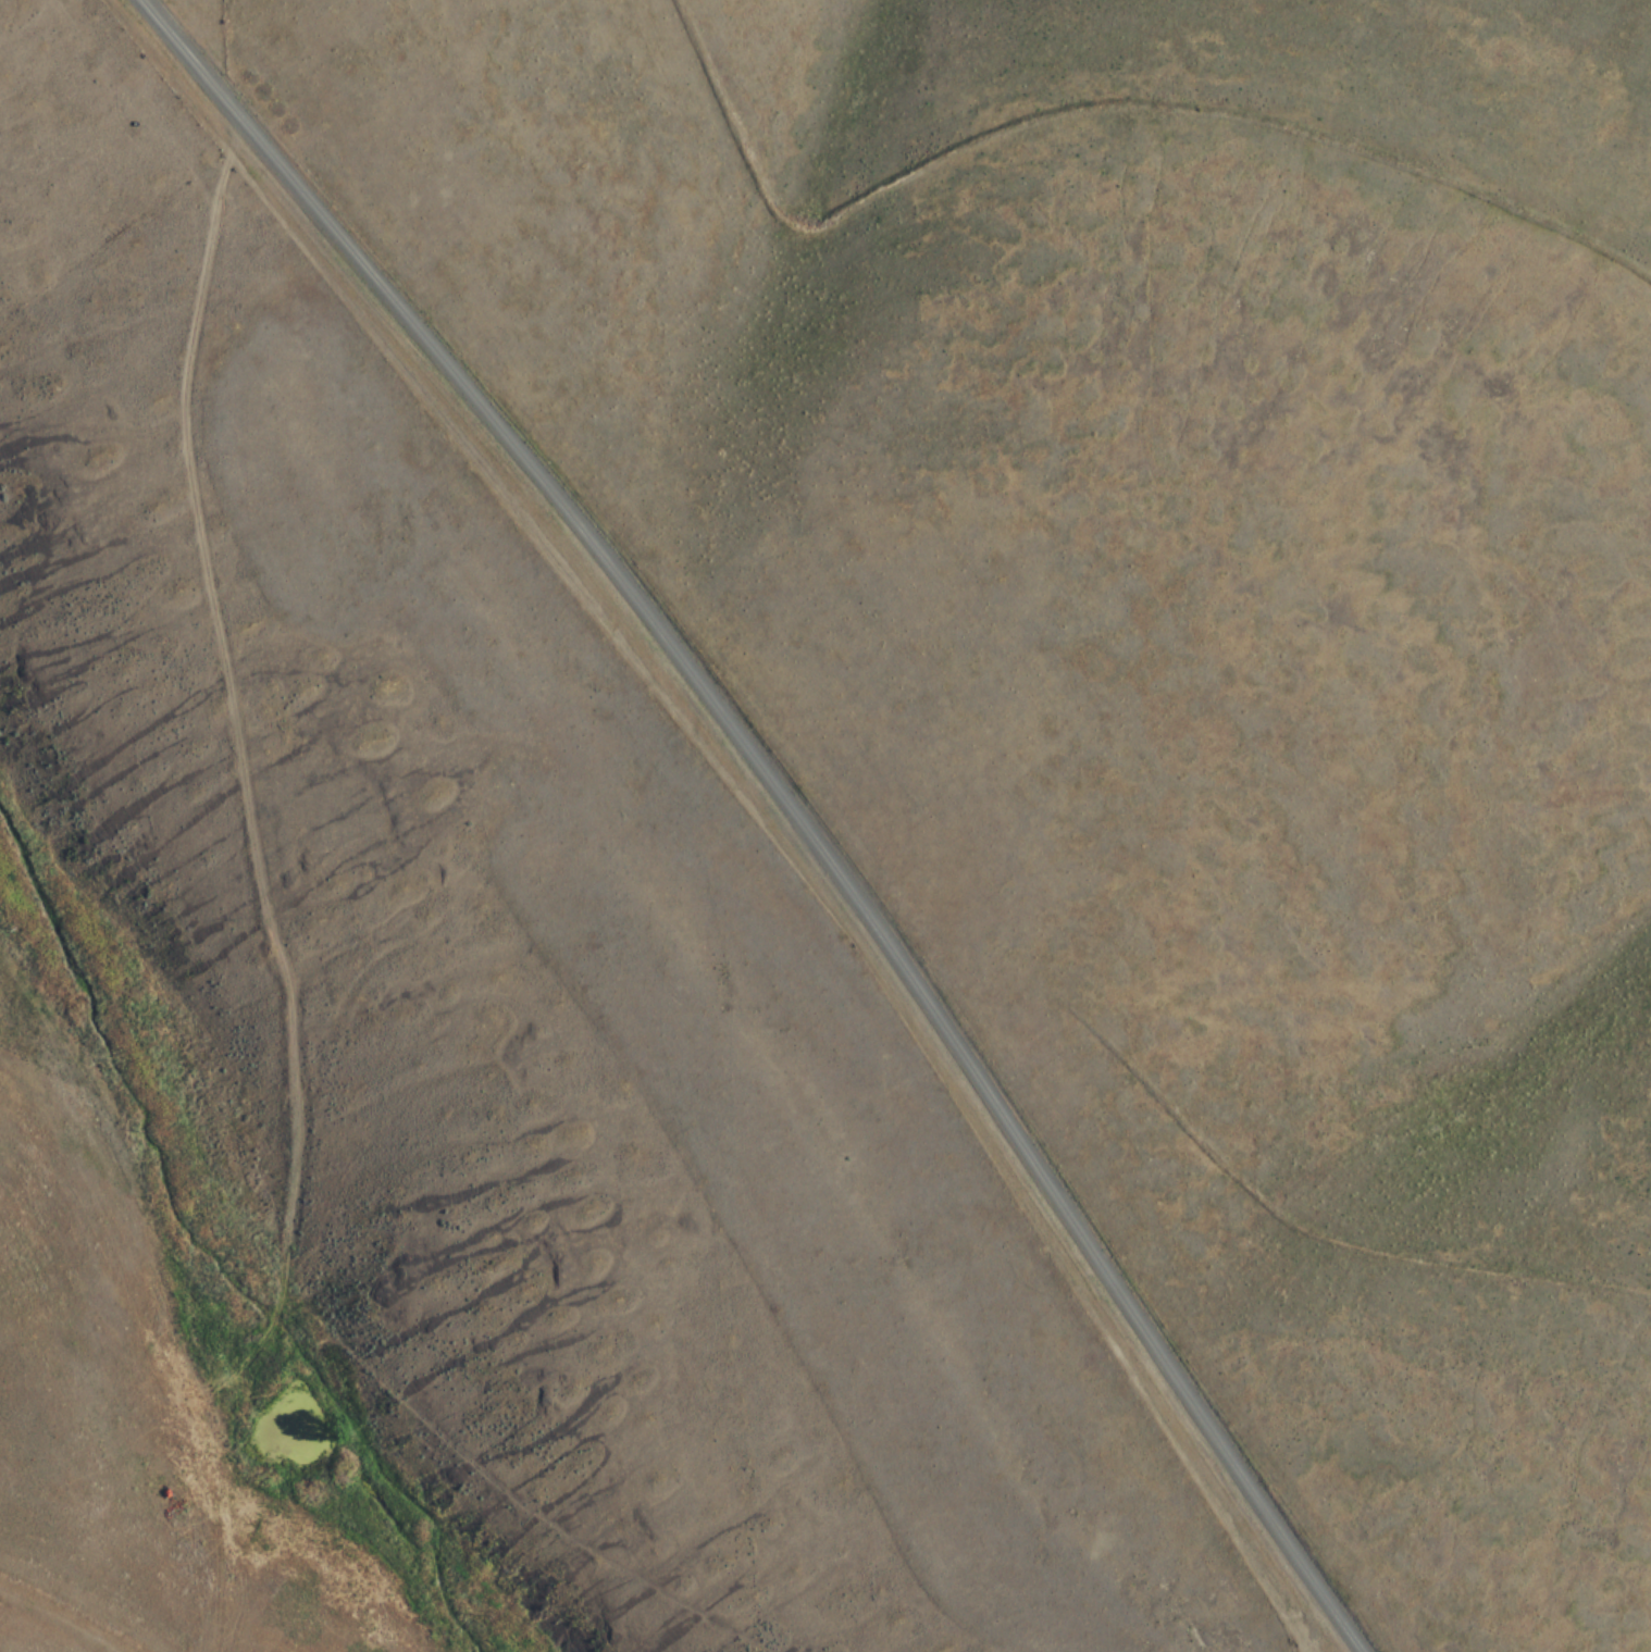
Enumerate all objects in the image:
road: (798, 785)

